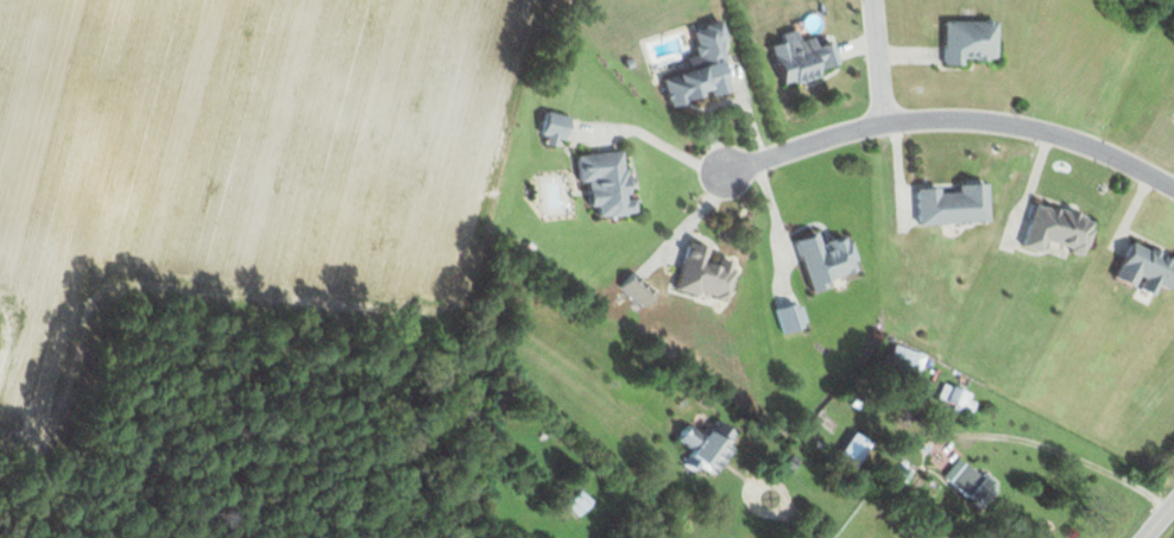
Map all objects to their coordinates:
building: (967, 43)
building: (799, 59)
road: (877, 61)
building: (696, 70)
road: (946, 120)
building: (550, 131)
building: (602, 184)
building: (949, 207)
building: (1054, 230)
building: (822, 261)
building: (1142, 268)
building: (701, 277)
building: (636, 291)
building: (788, 319)
building: (900, 366)
building: (954, 400)
building: (705, 447)
road: (1066, 455)
building: (964, 482)
building: (575, 505)
road: (789, 517)
road: (1160, 523)

